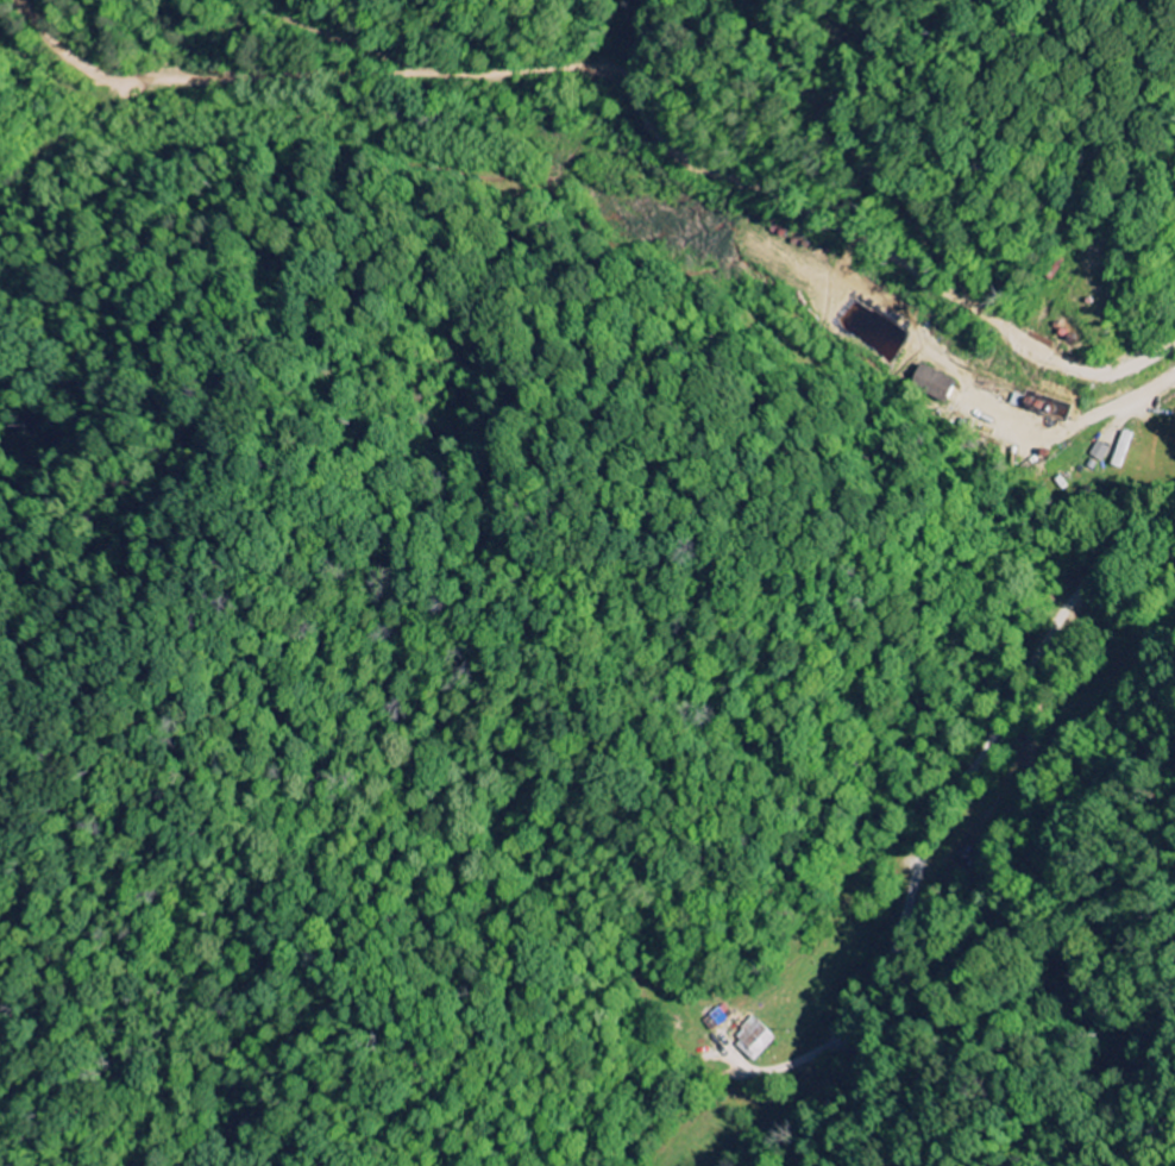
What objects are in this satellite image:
building: (940, 383)
building: (1104, 452)
road: (1170, 585)
road: (942, 820)
building: (760, 1040)

